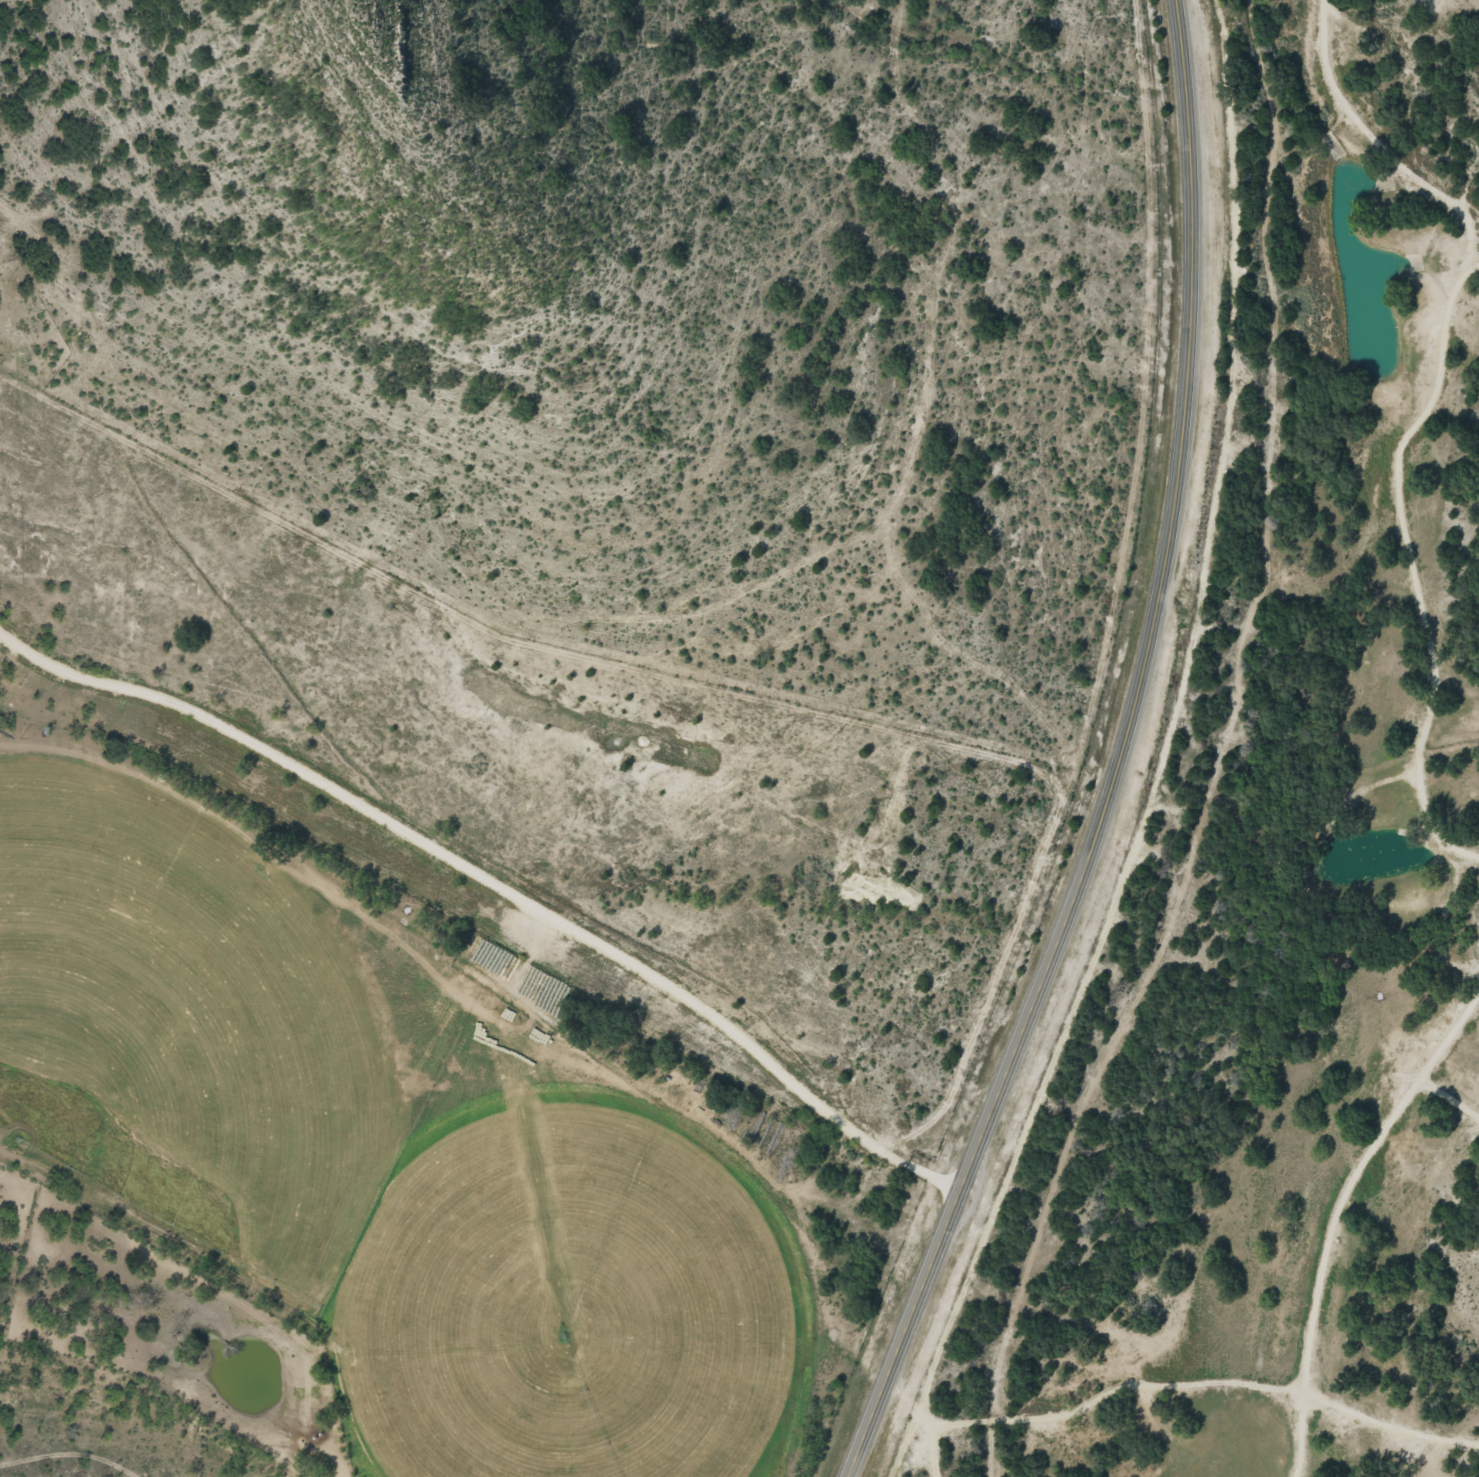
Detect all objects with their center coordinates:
road: (1119, 757)
road: (474, 917)

